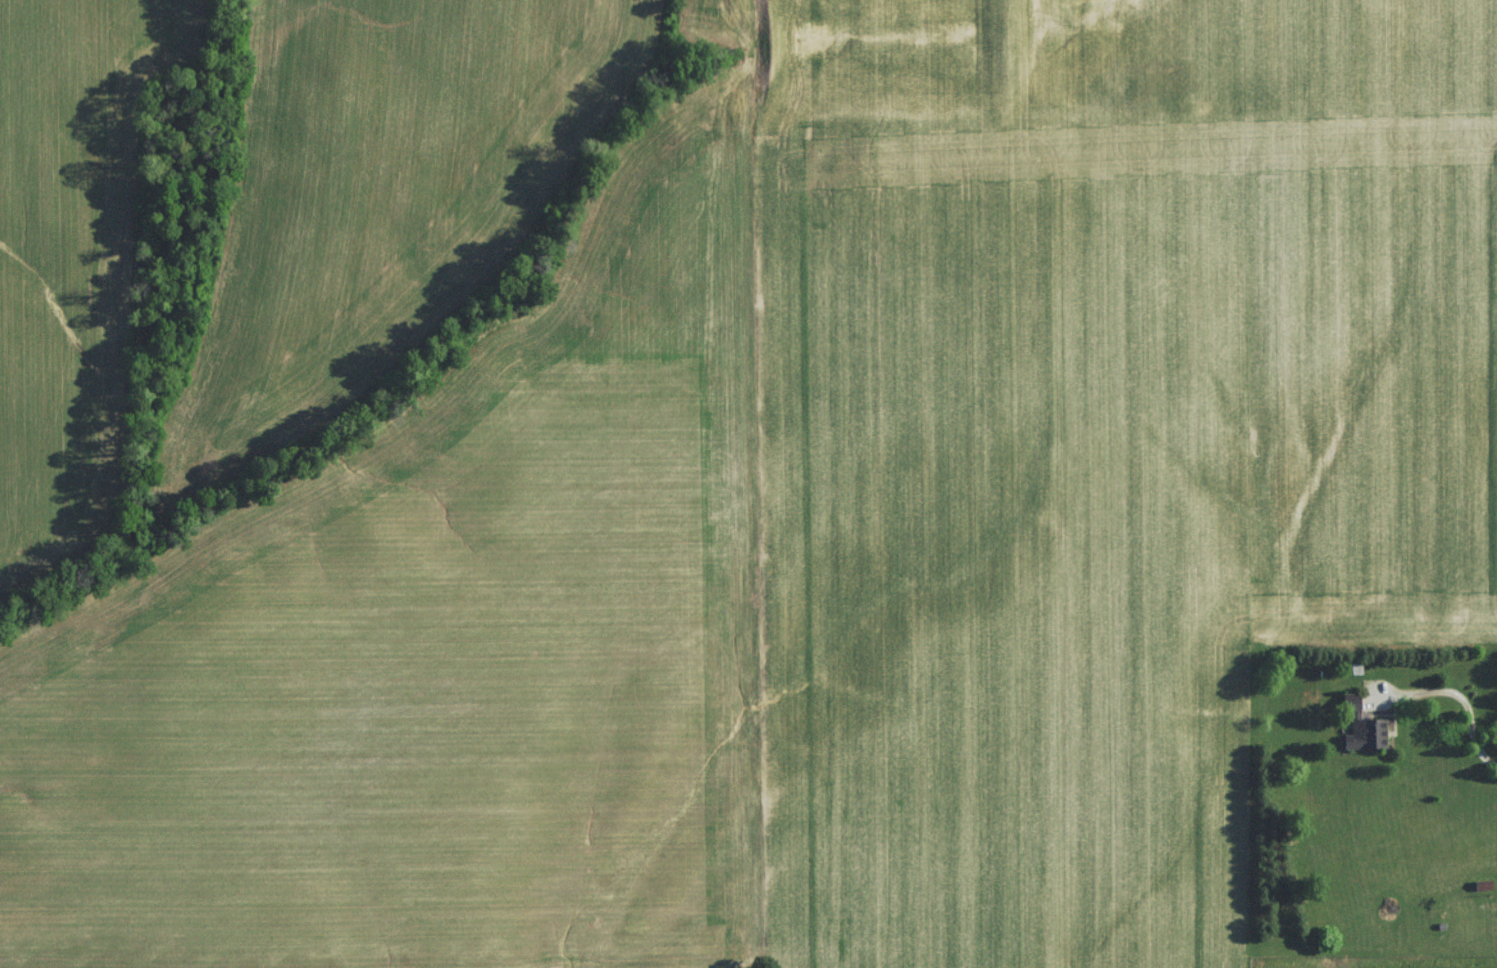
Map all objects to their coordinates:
road: (1387, 446)
road: (1459, 698)
building: (1362, 730)

